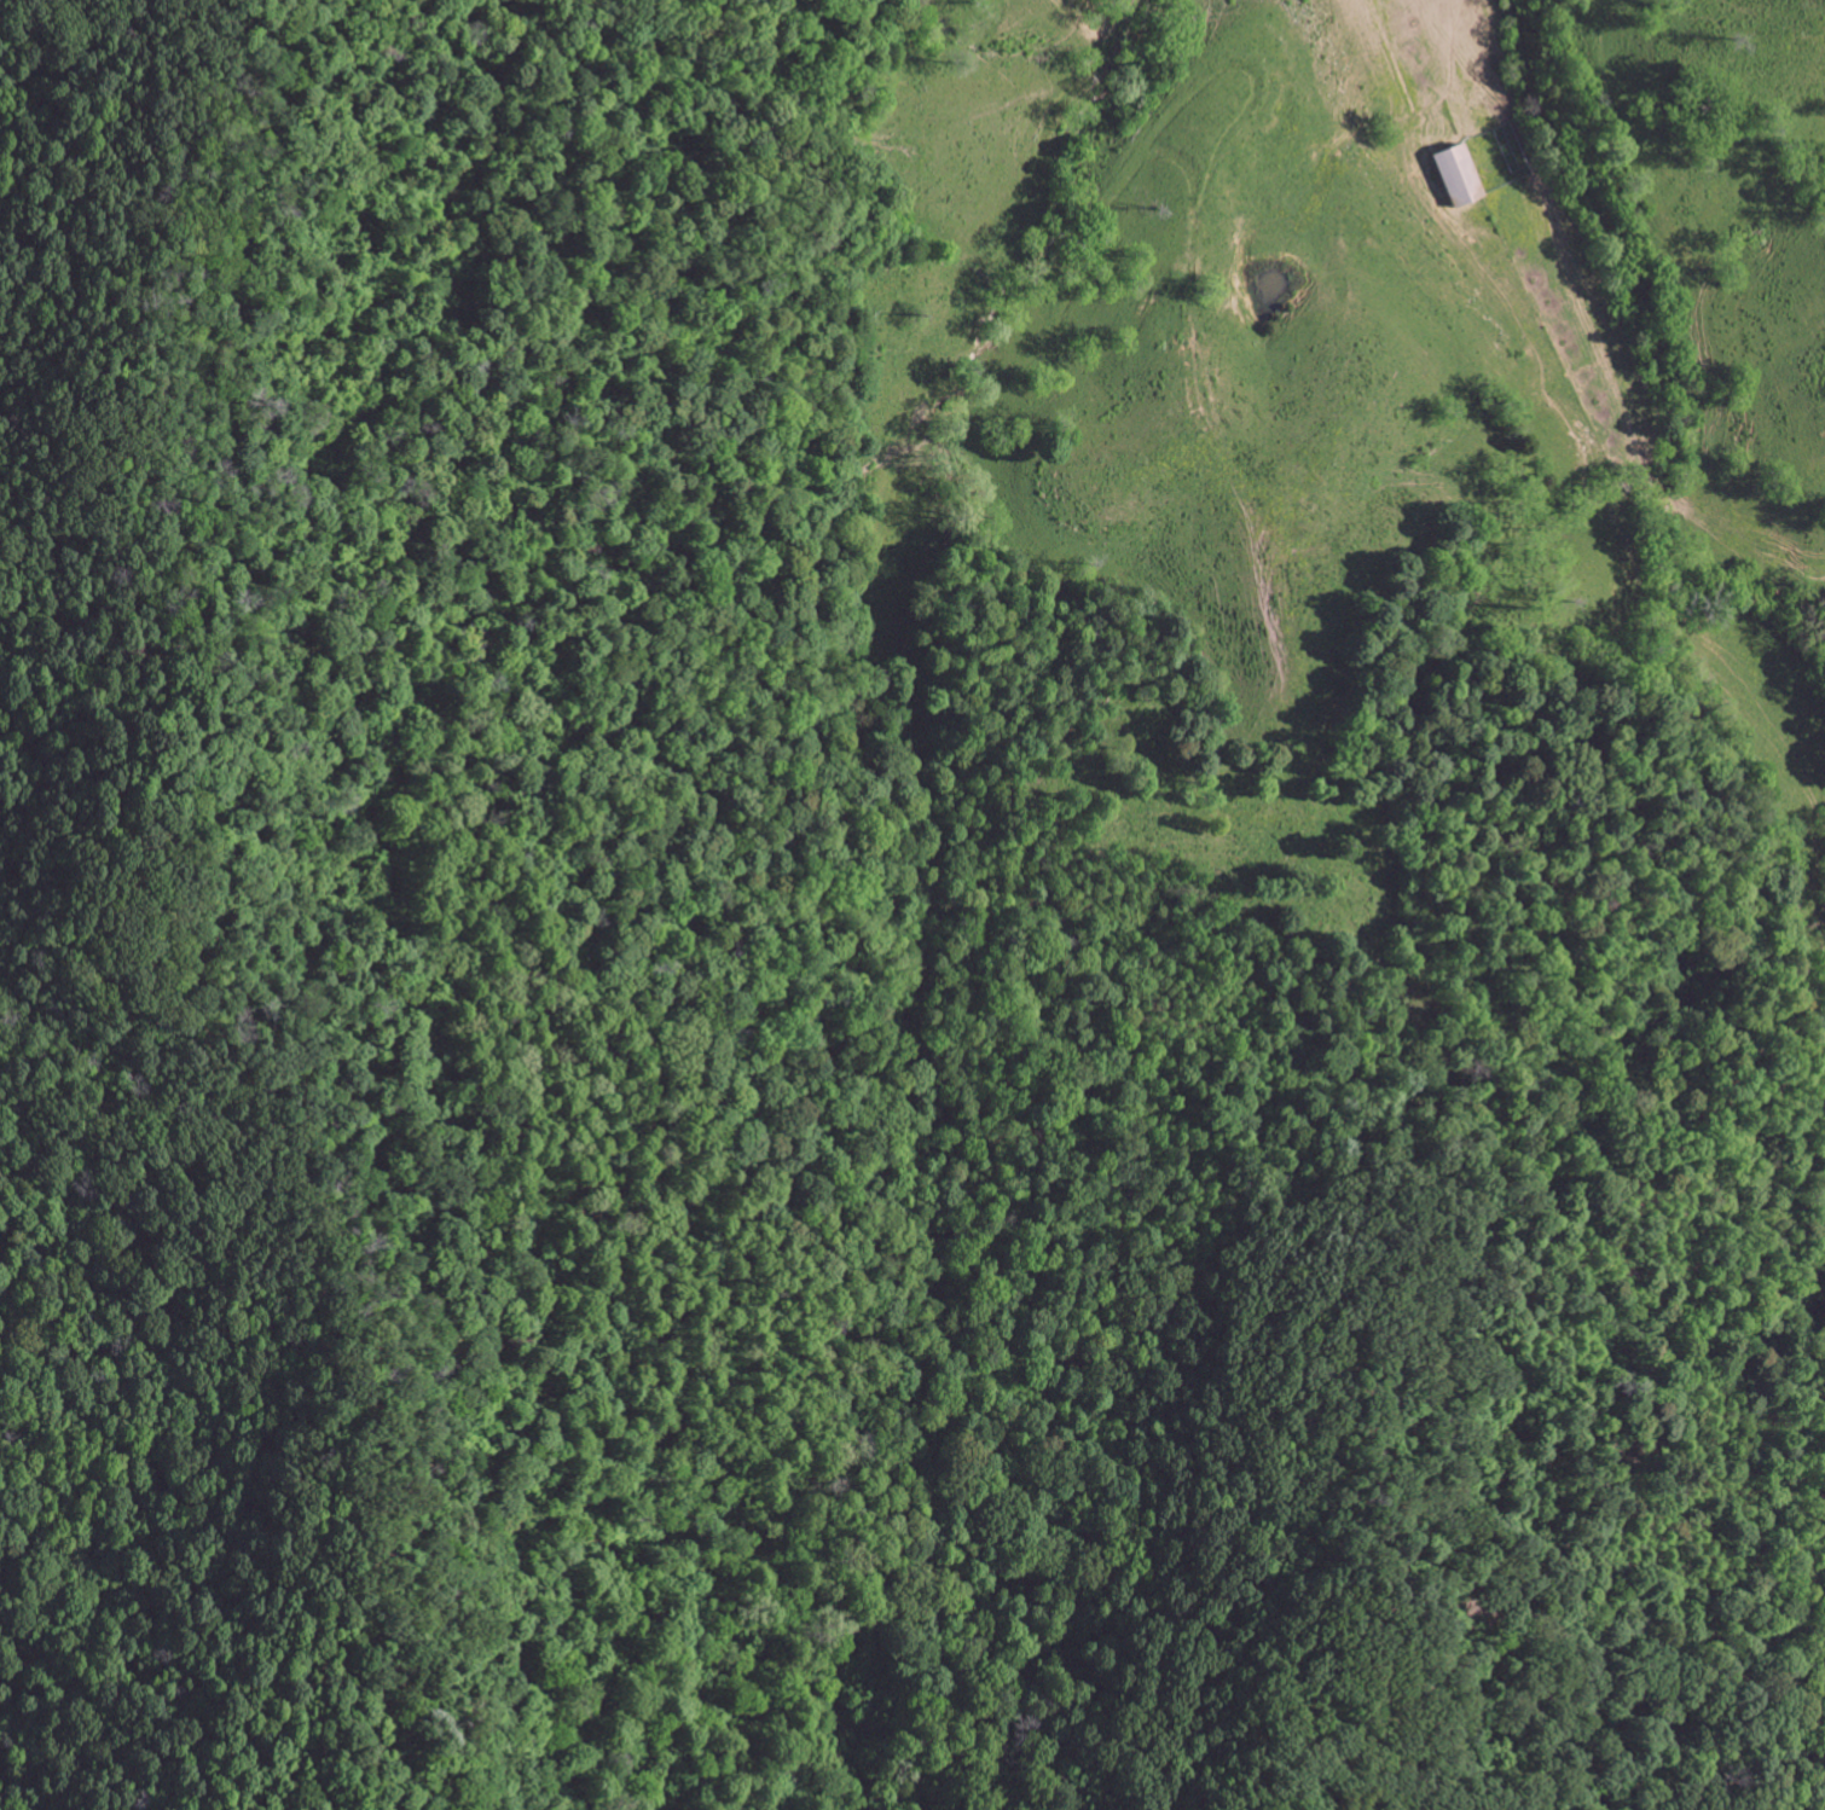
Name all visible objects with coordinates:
building: (1464, 176)

